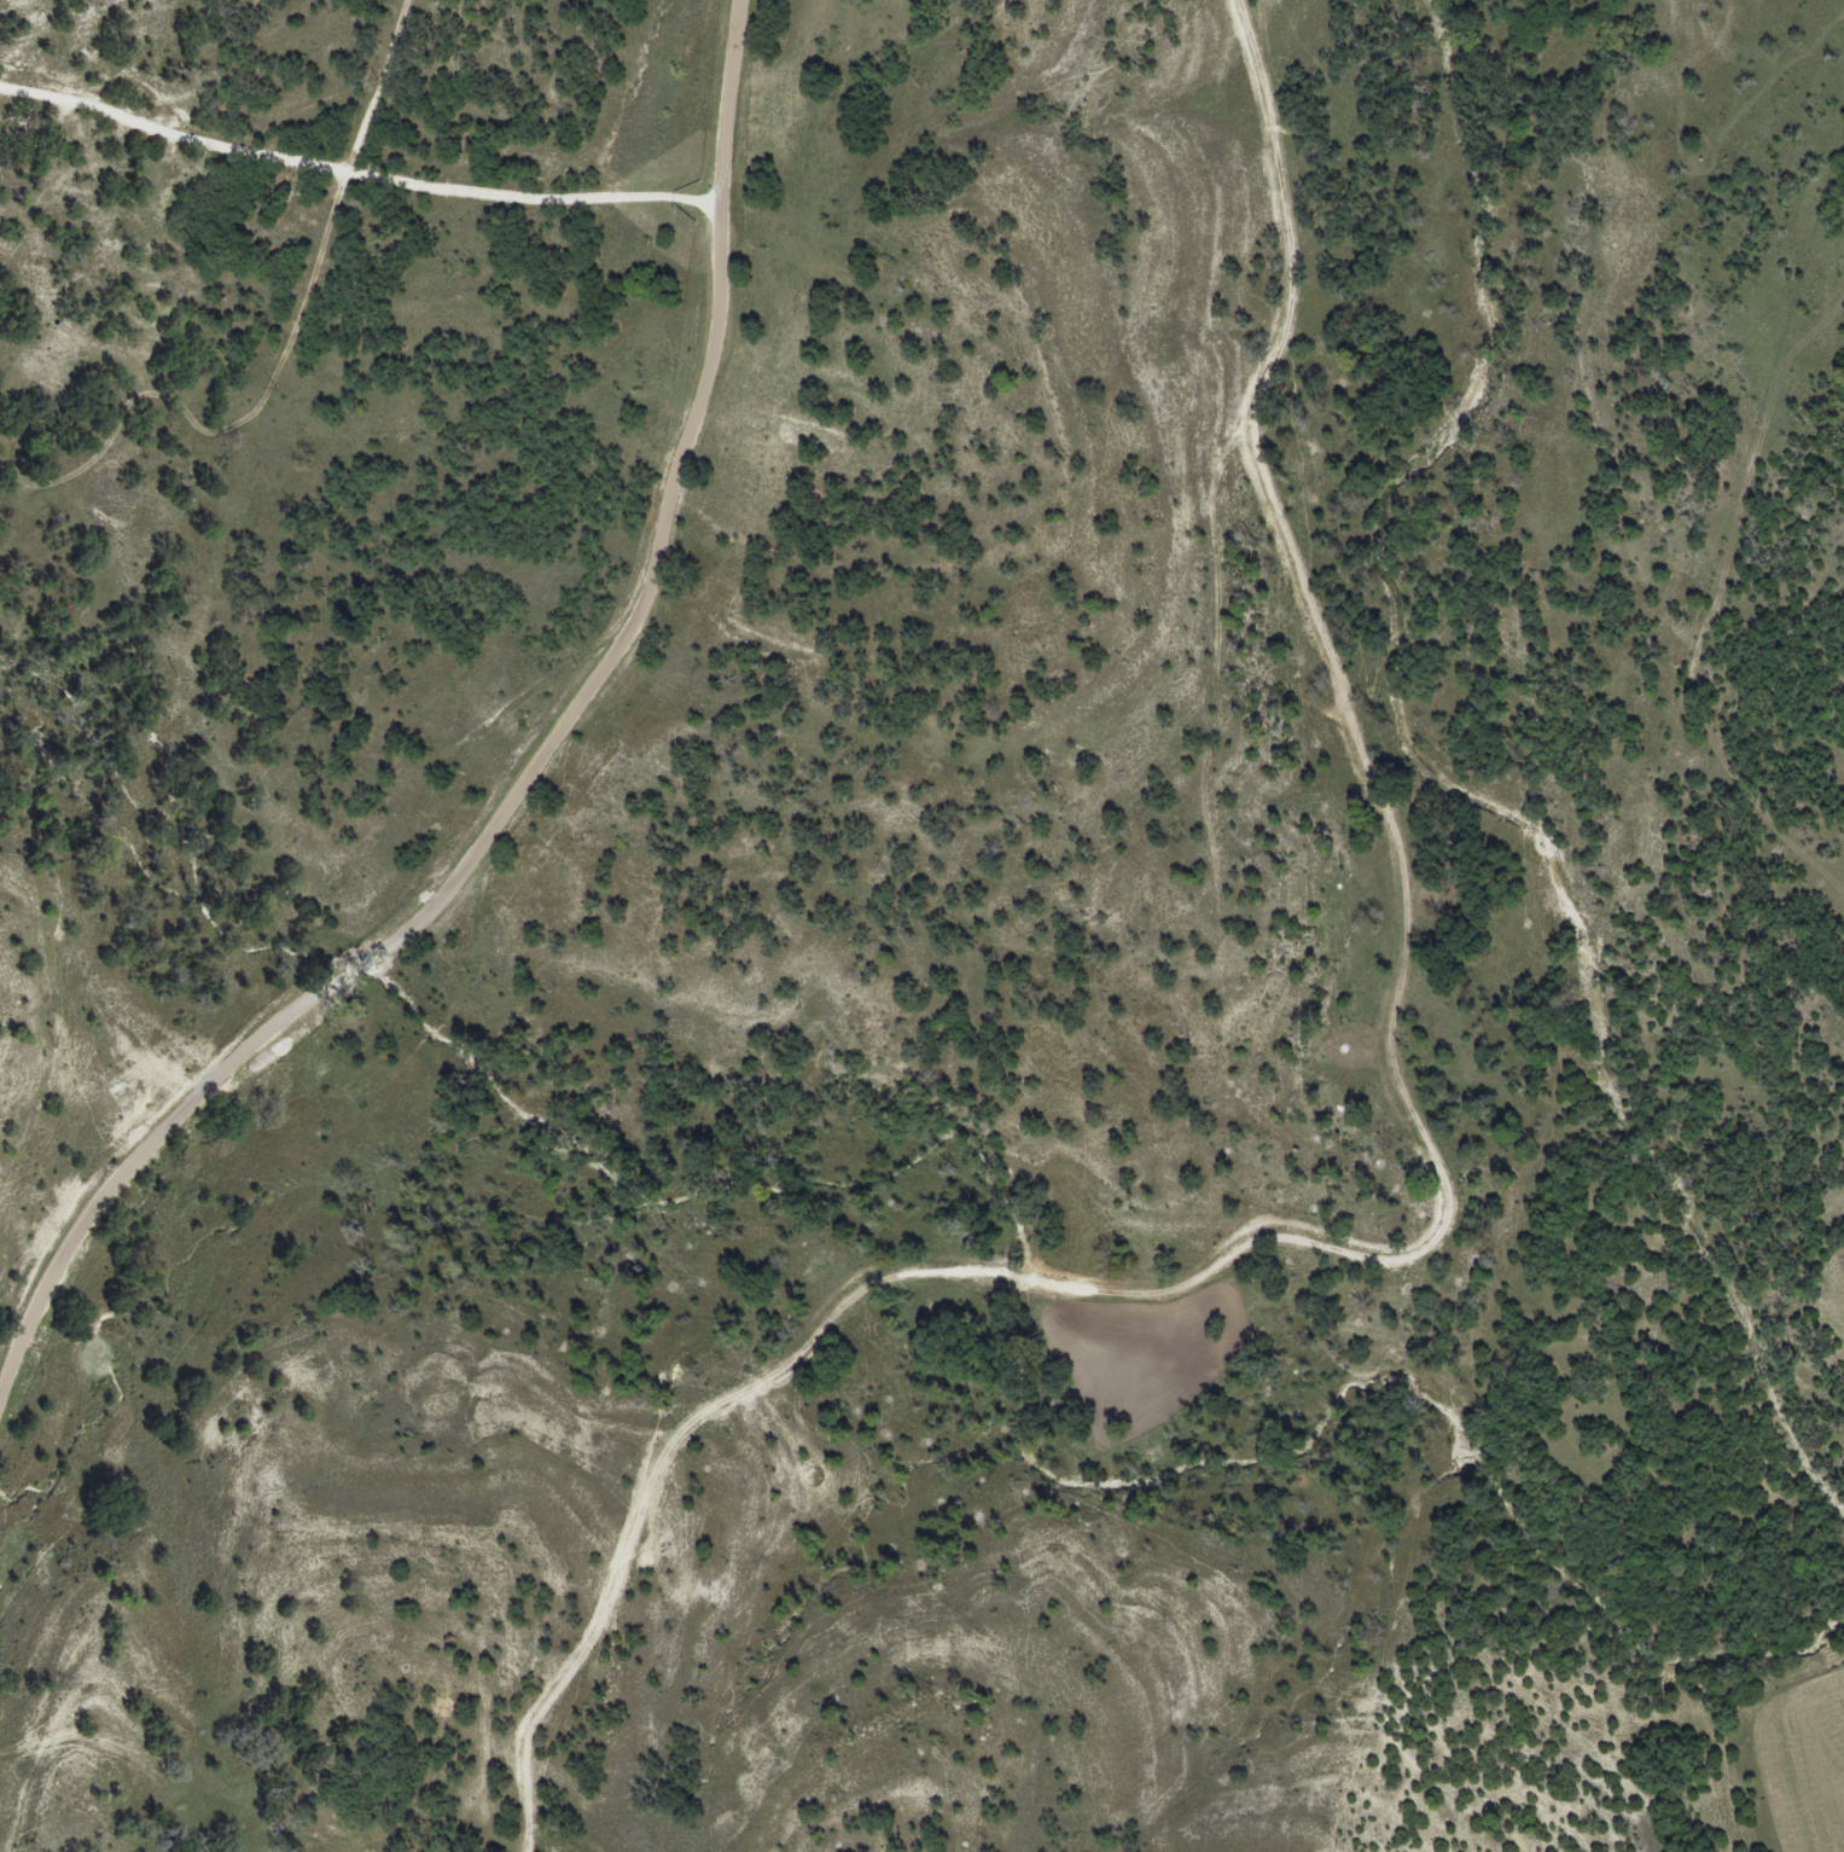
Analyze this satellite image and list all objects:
road: (354, 191)
road: (524, 776)

